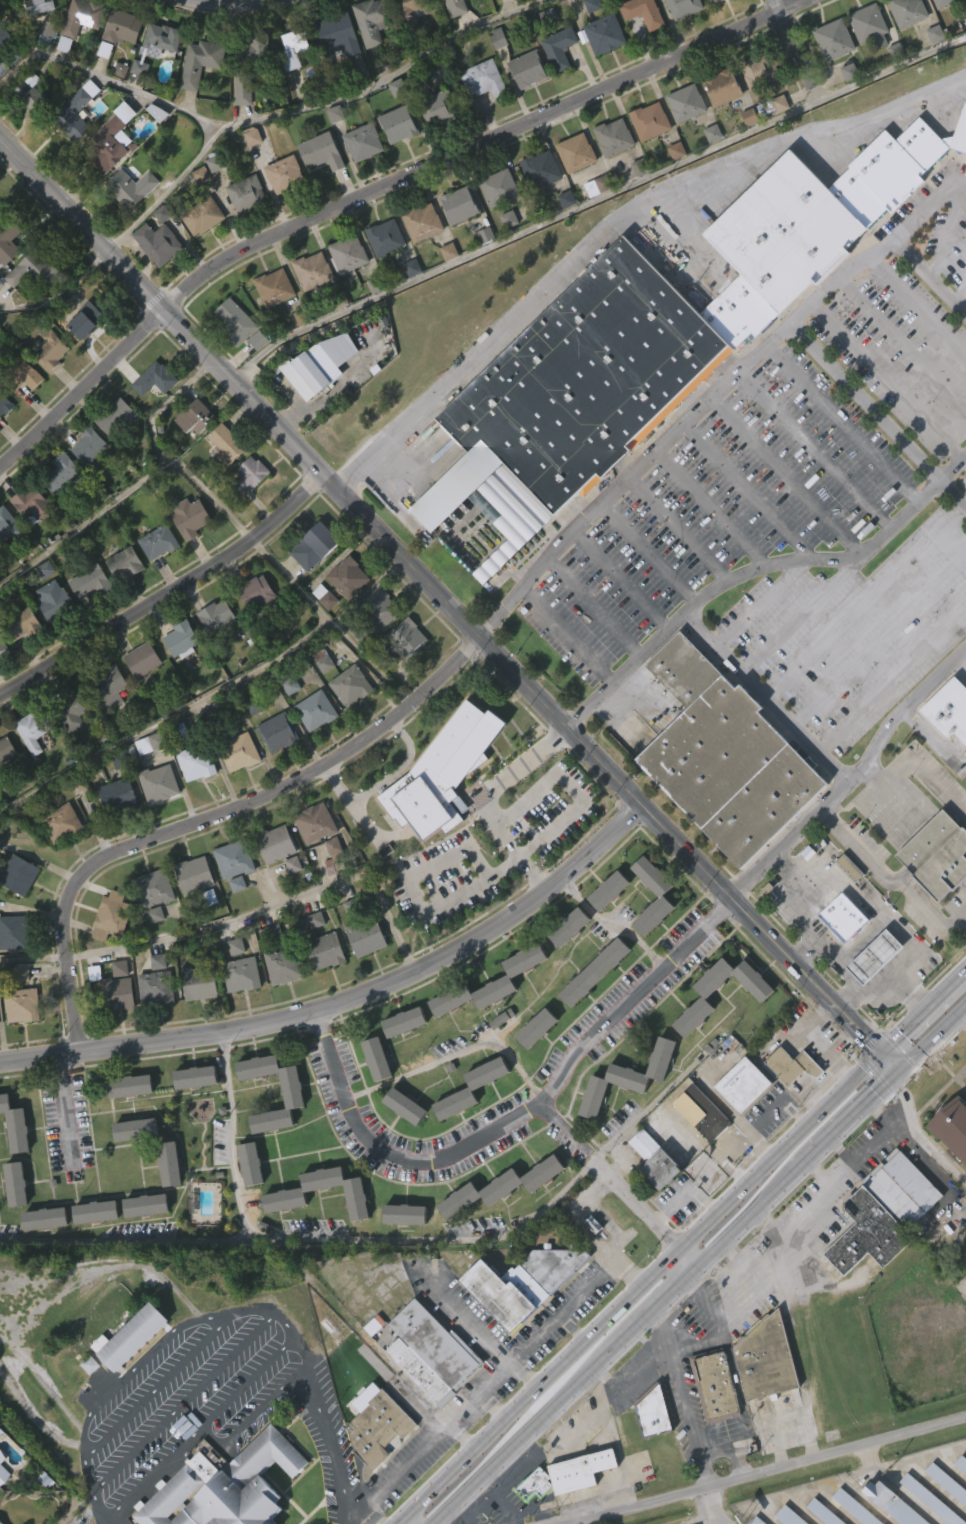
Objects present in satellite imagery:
building: (716, 1)
building: (785, 3)
building: (942, 3)
road: (225, 4)
building: (46, 5)
building: (964, 6)
building: (457, 7)
building: (543, 7)
building: (685, 7)
building: (409, 9)
building: (909, 11)
building: (644, 12)
building: (499, 13)
building: (80, 20)
building: (372, 21)
building: (715, 22)
building: (871, 26)
building: (940, 27)
building: (452, 29)
building: (123, 30)
building: (338, 33)
building: (606, 34)
building: (5, 36)
building: (162, 39)
building: (678, 39)
building: (835, 39)
building: (588, 41)
building: (37, 42)
building: (404, 44)
building: (296, 45)
building: (902, 46)
building: (560, 48)
building: (639, 49)
building: (543, 52)
road: (799, 52)
building: (964, 56)
building: (75, 59)
building: (366, 60)
building: (204, 61)
building: (3, 62)
building: (864, 64)
building: (249, 65)
building: (45, 67)
building: (115, 69)
building: (3, 70)
building: (529, 70)
building: (762, 70)
building: (334, 71)
building: (600, 72)
building: (930, 72)
building: (156, 78)
building: (829, 78)
building: (485, 80)
road: (377, 82)
building: (721, 85)
building: (555, 86)
building: (891, 87)
building: (289, 88)
building: (32, 97)
building: (198, 100)
building: (687, 103)
building: (775, 105)
road: (178, 106)
building: (116, 108)
building: (439, 108)
building: (523, 108)
building: (755, 109)
building: (845, 110)
building: (77, 111)
building: (479, 118)
building: (651, 122)
building: (399, 125)
building: (718, 125)
building: (239, 129)
building: (26, 130)
building: (615, 137)
building: (113, 138)
building: (681, 141)
building: (364, 142)
building: (767, 144)
building: (72, 148)
building: (432, 148)
building: (153, 150)
building: (322, 152)
building: (577, 153)
building: (744, 155)
building: (646, 159)
building: (394, 162)
building: (541, 170)
building: (708, 171)
building: (248, 174)
building: (286, 174)
building: (359, 180)
building: (103, 182)
building: (599, 185)
building: (132, 187)
building: (499, 188)
building: (672, 188)
building: (316, 190)
road: (375, 190)
building: (571, 190)
building: (247, 194)
road: (593, 199)
building: (635, 205)
building: (459, 206)
building: (536, 207)
building: (279, 212)
building: (204, 216)
building: (423, 223)
road: (613, 223)
building: (592, 224)
building: (127, 225)
building: (494, 226)
building: (242, 231)
road: (948, 235)
building: (562, 237)
building: (160, 238)
building: (386, 238)
building: (9, 242)
building: (454, 243)
road: (895, 244)
building: (199, 254)
building: (349, 254)
building: (504, 257)
building: (418, 260)
building: (34, 271)
building: (313, 271)
building: (481, 273)
building: (381, 275)
building: (6, 279)
building: (154, 281)
building: (275, 288)
building: (444, 289)
building: (344, 292)
road: (961, 294)
road: (65, 300)
building: (408, 305)
road: (918, 305)
building: (27, 308)
building: (308, 308)
building: (87, 320)
building: (236, 322)
building: (270, 325)
building: (653, 341)
road: (904, 342)
building: (51, 351)
road: (816, 352)
building: (82, 358)
building: (235, 362)
building: (322, 365)
building: (23, 376)
road: (889, 378)
building: (156, 379)
building: (47, 388)
building: (316, 401)
building: (5, 405)
building: (21, 413)
building: (198, 415)
building: (117, 416)
building: (151, 416)
road: (843, 420)
building: (3, 442)
building: (231, 444)
building: (89, 446)
road: (814, 448)
building: (111, 454)
building: (191, 455)
building: (62, 474)
road: (788, 474)
building: (251, 475)
road: (631, 477)
building: (220, 483)
building: (85, 484)
road: (747, 492)
road: (952, 493)
building: (32, 502)
road: (712, 508)
building: (58, 511)
building: (246, 512)
building: (194, 519)
building: (10, 527)
road: (680, 529)
building: (28, 541)
building: (160, 541)
building: (314, 546)
road: (649, 554)
building: (186, 555)
building: (125, 563)
building: (7, 564)
building: (349, 577)
road: (292, 579)
road: (622, 579)
building: (154, 580)
building: (91, 581)
building: (310, 584)
building: (258, 591)
road: (167, 593)
building: (55, 601)
building: (121, 601)
road: (863, 602)
road: (763, 603)
road: (450, 607)
road: (595, 607)
building: (380, 608)
building: (217, 615)
building: (344, 615)
road: (801, 615)
building: (85, 619)
building: (23, 623)
building: (252, 630)
building: (321, 634)
road: (567, 635)
building: (50, 637)
building: (407, 637)
building: (185, 640)
road: (708, 641)
road: (879, 644)
building: (3, 645)
building: (375, 646)
building: (212, 652)
building: (143, 659)
building: (325, 660)
building: (19, 662)
road: (624, 670)
building: (177, 676)
building: (402, 676)
building: (1, 683)
road: (892, 683)
building: (352, 684)
building: (110, 686)
road: (214, 691)
building: (138, 697)
building: (949, 709)
building: (76, 710)
building: (317, 710)
building: (346, 723)
building: (106, 725)
building: (34, 729)
building: (278, 735)
building: (152, 742)
building: (311, 748)
building: (946, 748)
building: (7, 749)
building: (68, 750)
building: (242, 753)
building: (728, 755)
building: (198, 762)
building: (28, 769)
road: (916, 769)
building: (273, 770)
road: (401, 770)
building: (442, 771)
building: (159, 783)
building: (4, 785)
building: (235, 789)
building: (119, 796)
building: (192, 800)
building: (438, 810)
road: (359, 815)
road: (213, 817)
building: (155, 821)
building: (313, 823)
building: (64, 825)
road: (556, 825)
building: (114, 833)
road: (507, 839)
road: (789, 843)
building: (276, 844)
road: (854, 848)
building: (935, 856)
building: (239, 858)
building: (311, 860)
building: (58, 861)
building: (22, 873)
building: (195, 875)
road: (788, 876)
building: (272, 881)
building: (329, 883)
road: (897, 886)
building: (155, 887)
building: (611, 890)
building: (933, 892)
building: (663, 896)
building: (229, 897)
road: (857, 899)
building: (289, 901)
road: (273, 905)
building: (845, 905)
building: (15, 912)
building: (191, 912)
road: (928, 913)
road: (961, 915)
building: (112, 916)
building: (233, 921)
road: (615, 922)
road: (961, 924)
building: (150, 925)
building: (570, 927)
building: (604, 927)
building: (17, 930)
building: (656, 933)
building: (205, 934)
building: (367, 937)
building: (859, 941)
gas station: (859, 941)
building: (327, 951)
building: (152, 952)
building: (108, 953)
road: (34, 957)
building: (564, 964)
building: (284, 966)
building: (12, 970)
building: (597, 972)
building: (850, 973)
building: (242, 975)
building: (362, 975)
building: (203, 982)
building: (492, 983)
building: (159, 986)
building: (321, 988)
building: (120, 993)
road: (348, 997)
building: (520, 997)
building: (762, 998)
building: (278, 1003)
building: (25, 1005)
building: (590, 1009)
building: (237, 1012)
building: (195, 1020)
building: (400, 1021)
building: (151, 1025)
building: (539, 1028)
building: (113, 1031)
building: (469, 1033)
building: (756, 1034)
building: (17, 1043)
building: (497, 1055)
traffic signals: (882, 1056)
building: (375, 1059)
building: (400, 1059)
building: (532, 1065)
building: (794, 1065)
traffic signals: (904, 1075)
building: (196, 1078)
building: (629, 1079)
building: (740, 1083)
building: (131, 1087)
building: (470, 1088)
building: (372, 1096)
building: (295, 1098)
building: (787, 1102)
building: (406, 1107)
road: (64, 1108)
building: (482, 1110)
building: (191, 1114)
building: (623, 1114)
building: (706, 1115)
road: (516, 1118)
road: (888, 1118)
building: (738, 1121)
building: (126, 1123)
building: (15, 1126)
building: (951, 1126)
road: (569, 1129)
building: (136, 1130)
building: (288, 1130)
road: (919, 1137)
building: (451, 1140)
building: (401, 1143)
road: (864, 1145)
building: (703, 1152)
building: (651, 1159)
building: (169, 1164)
building: (251, 1164)
building: (950, 1165)
building: (131, 1166)
road: (820, 1175)
building: (16, 1186)
building: (500, 1186)
building: (905, 1188)
building: (287, 1194)
building: (650, 1197)
building: (165, 1201)
building: (246, 1201)
road: (637, 1203)
road: (811, 1204)
building: (146, 1206)
building: (96, 1213)
building: (965, 1214)
building: (405, 1215)
building: (44, 1220)
building: (11, 1221)
road: (608, 1221)
building: (497, 1223)
road: (588, 1229)
building: (870, 1235)
building: (280, 1237)
road: (335, 1237)
building: (141, 1242)
building: (353, 1242)
road: (682, 1247)
building: (91, 1249)
building: (400, 1251)
building: (41, 1256)
road: (758, 1259)
building: (588, 1260)
road: (691, 1260)
road: (703, 1270)
building: (524, 1284)
road: (257, 1309)
road: (469, 1317)
building: (518, 1320)
road: (573, 1328)
building: (133, 1337)
building: (437, 1345)
road: (158, 1347)
building: (769, 1360)
building: (421, 1373)
building: (126, 1374)
road: (526, 1374)
road: (157, 1384)
building: (715, 1385)
building: (759, 1396)
building: (86, 1401)
road: (183, 1401)
road: (468, 1403)
road: (685, 1403)
building: (654, 1411)
road: (253, 1414)
road: (317, 1414)
building: (709, 1421)
road: (198, 1427)
building: (379, 1427)
road: (578, 1429)
road: (463, 1436)
road: (84, 1439)
road: (615, 1441)
building: (775, 1443)
building: (648, 1449)
building: (962, 1463)
building: (4, 1467)
building: (375, 1467)
building: (582, 1470)
road: (772, 1470)
road: (393, 1475)
building: (948, 1481)
road: (501, 1484)
building: (226, 1485)
building: (533, 1485)
road: (92, 1487)
building: (0, 1494)
building: (932, 1499)
road: (482, 1503)
building: (897, 1503)
building: (959, 1503)
building: (576, 1506)
road: (702, 1507)
building: (858, 1507)
building: (2, 1512)
building: (825, 1512)
building: (935, 1513)
road: (371, 1514)
road: (106, 1515)
building: (533, 1516)
building: (791, 1516)
building: (759, 1520)
building: (2, 1521)

